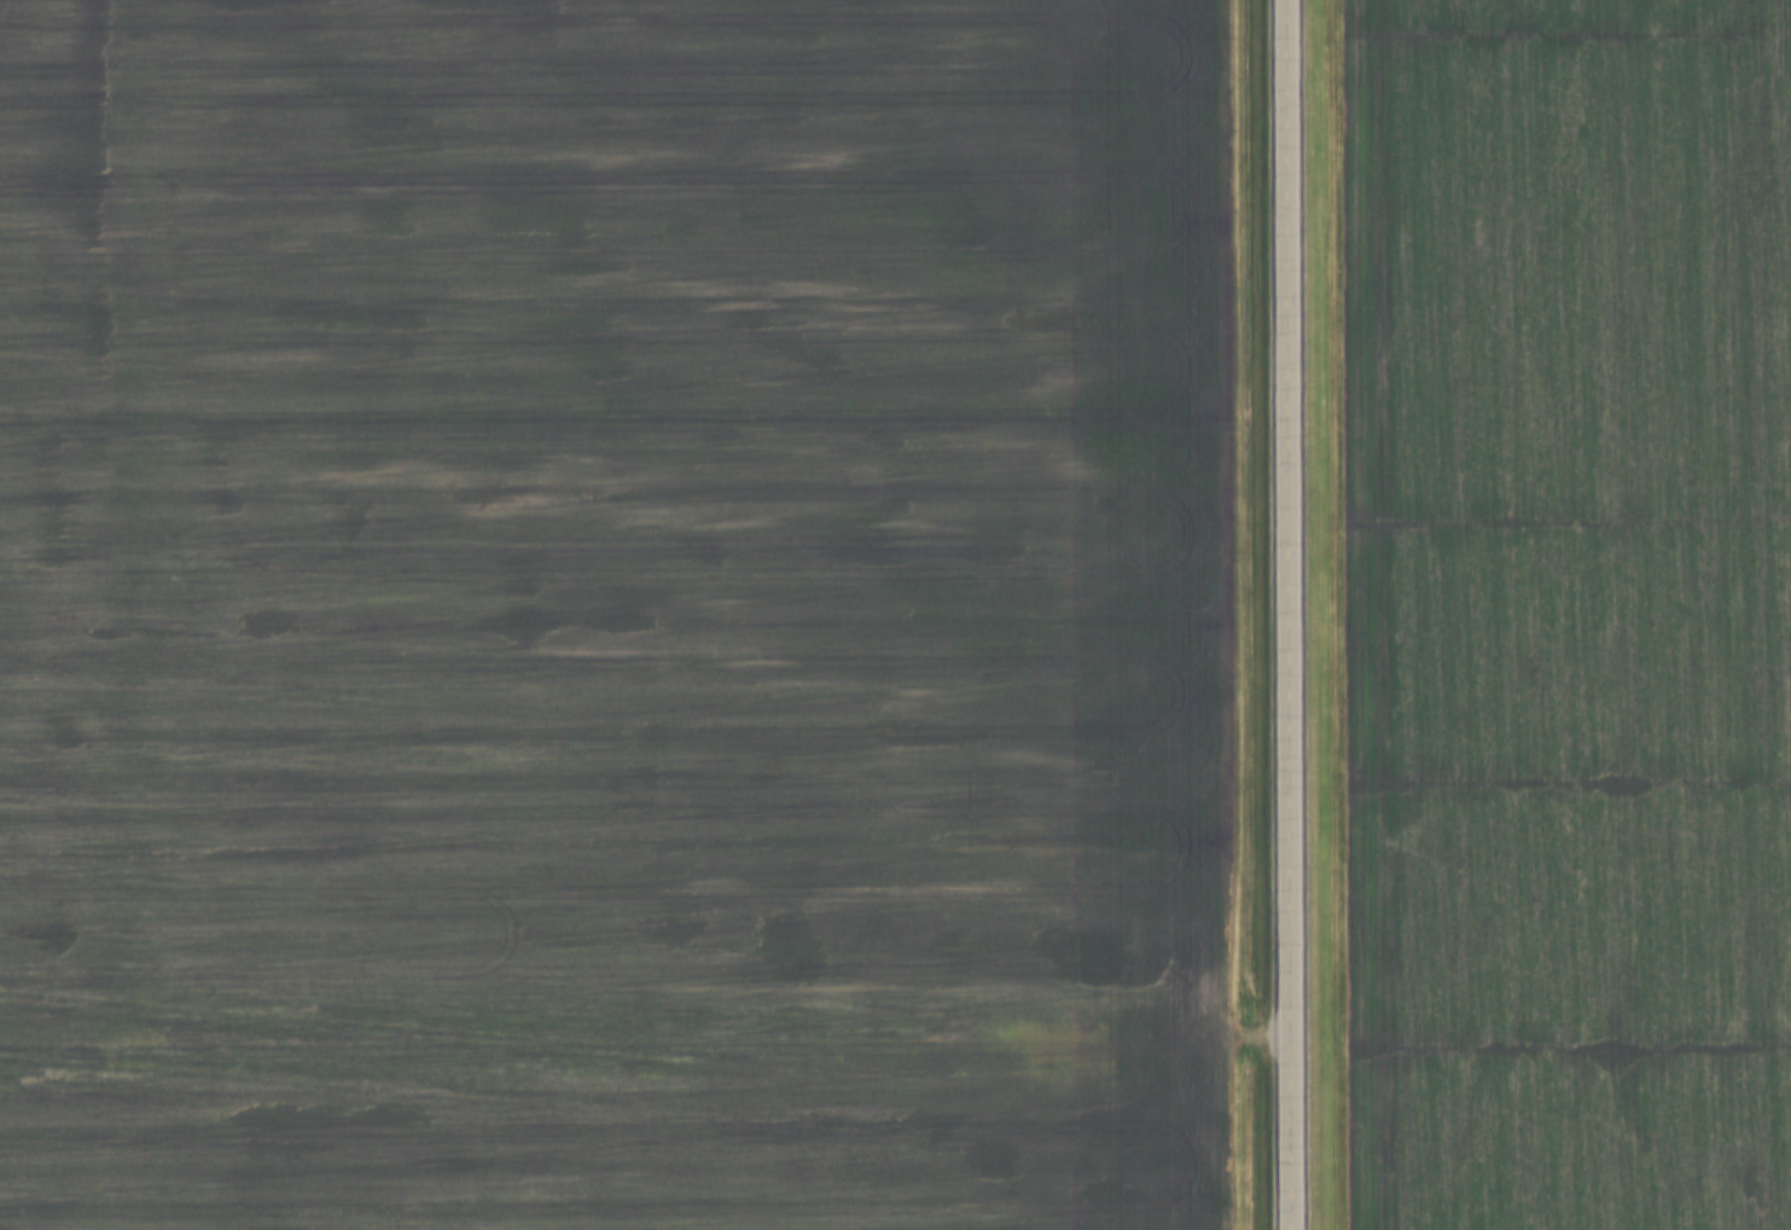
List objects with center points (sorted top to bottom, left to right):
road: (1293, 615)

